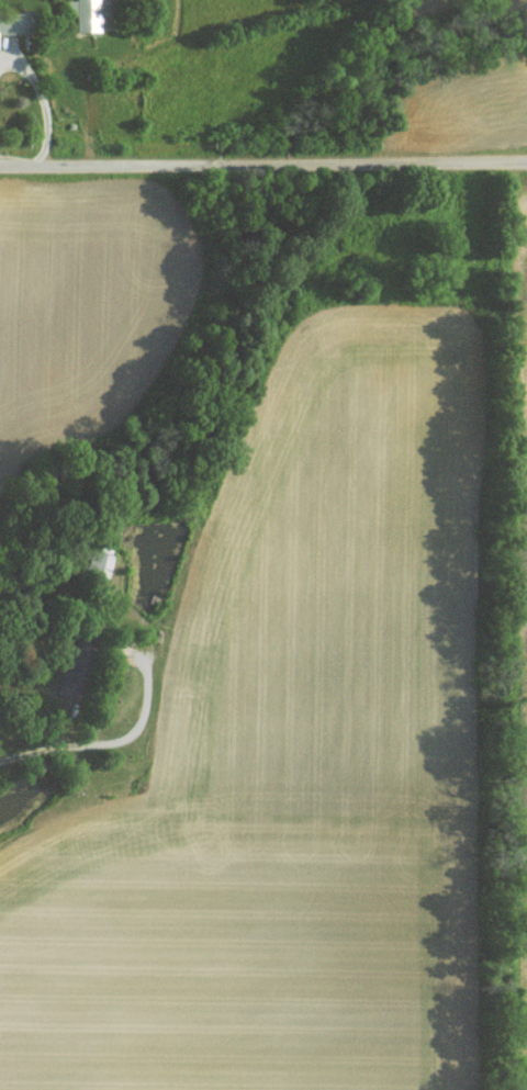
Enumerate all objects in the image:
building: (94, 14)
road: (46, 101)
road: (262, 162)
road: (117, 743)

